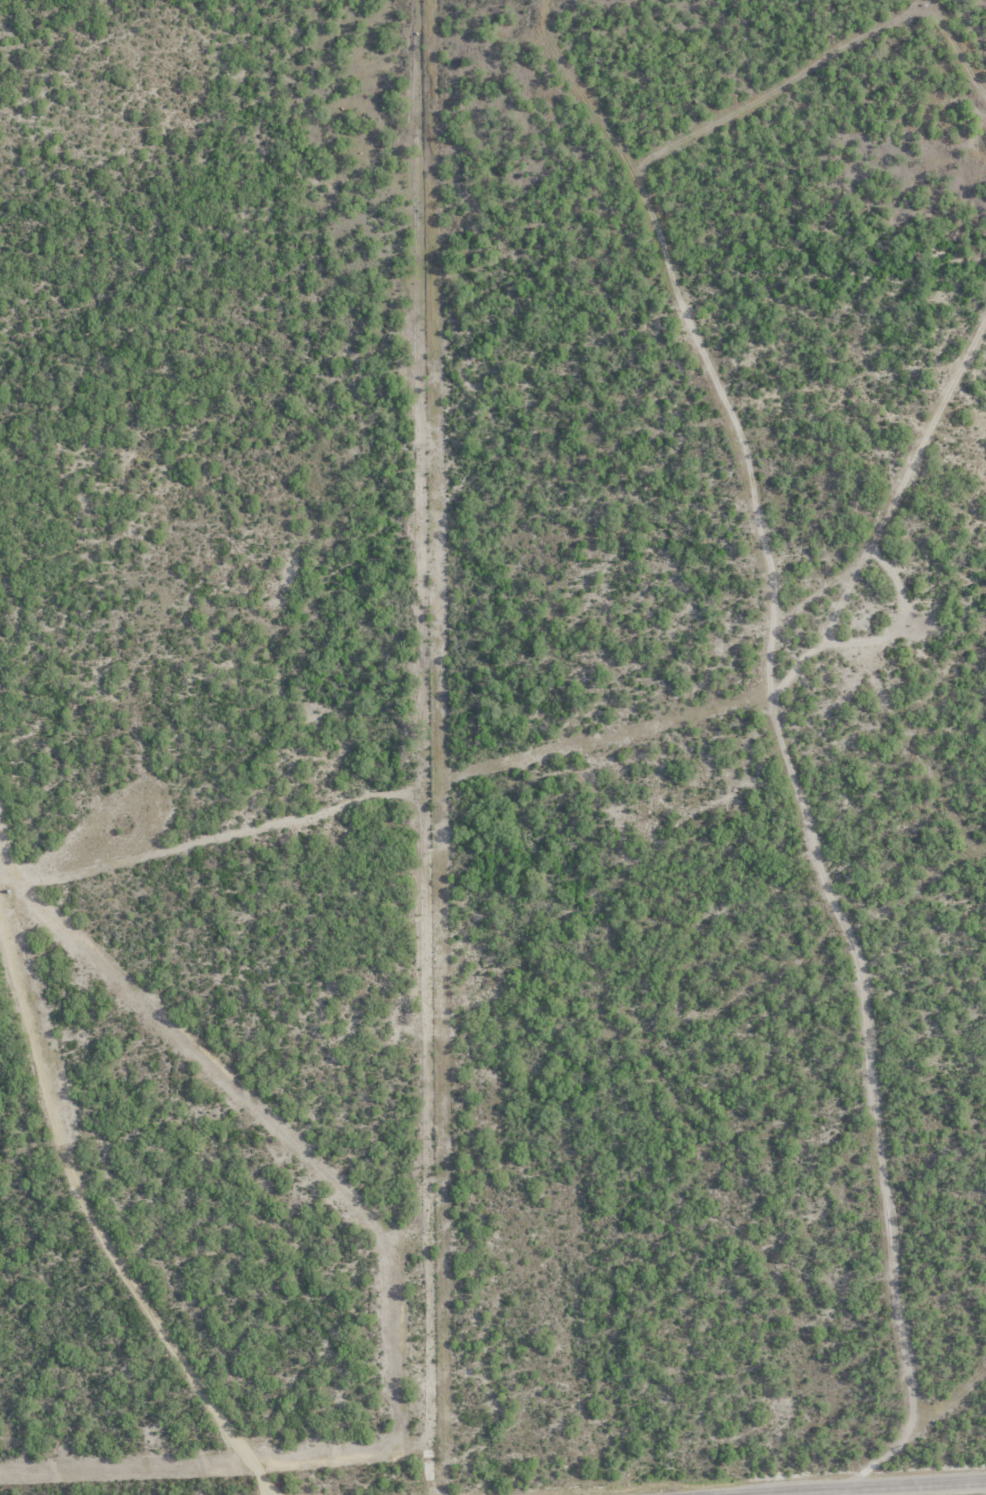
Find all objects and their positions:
road: (866, 1489)

